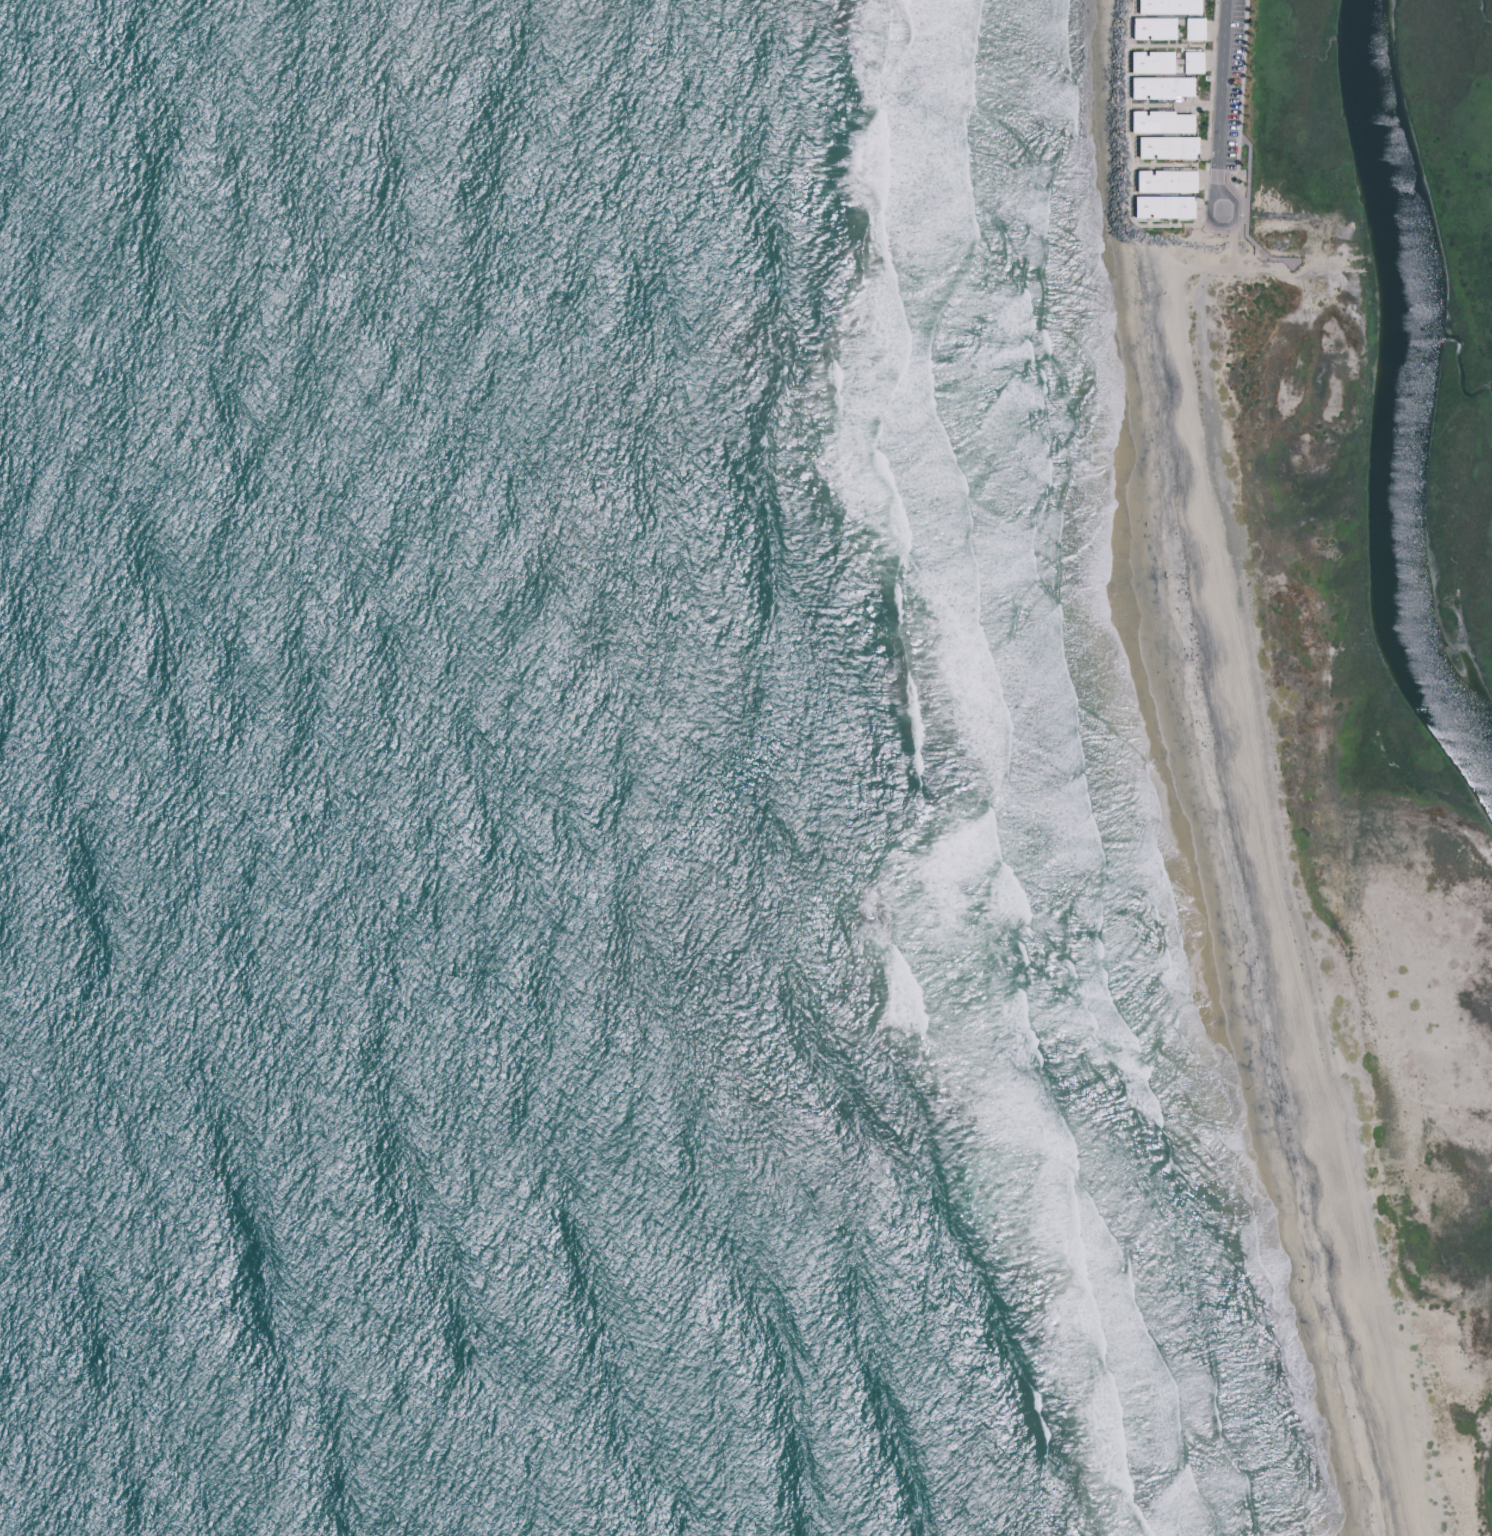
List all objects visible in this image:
building: (1150, 6)
building: (1172, 6)
building: (1190, 6)
building: (1145, 27)
building: (1167, 28)
building: (1195, 28)
road: (1176, 47)
building: (1143, 62)
building: (1165, 62)
building: (1193, 62)
building: (1143, 87)
building: (1174, 87)
road: (1173, 107)
road: (1220, 107)
building: (1143, 121)
building: (1174, 123)
building: (1150, 147)
building: (1181, 147)
road: (1131, 159)
road: (1175, 165)
building: (1148, 181)
building: (1179, 182)
building: (1146, 207)
building: (1176, 207)
river: (1412, 394)

